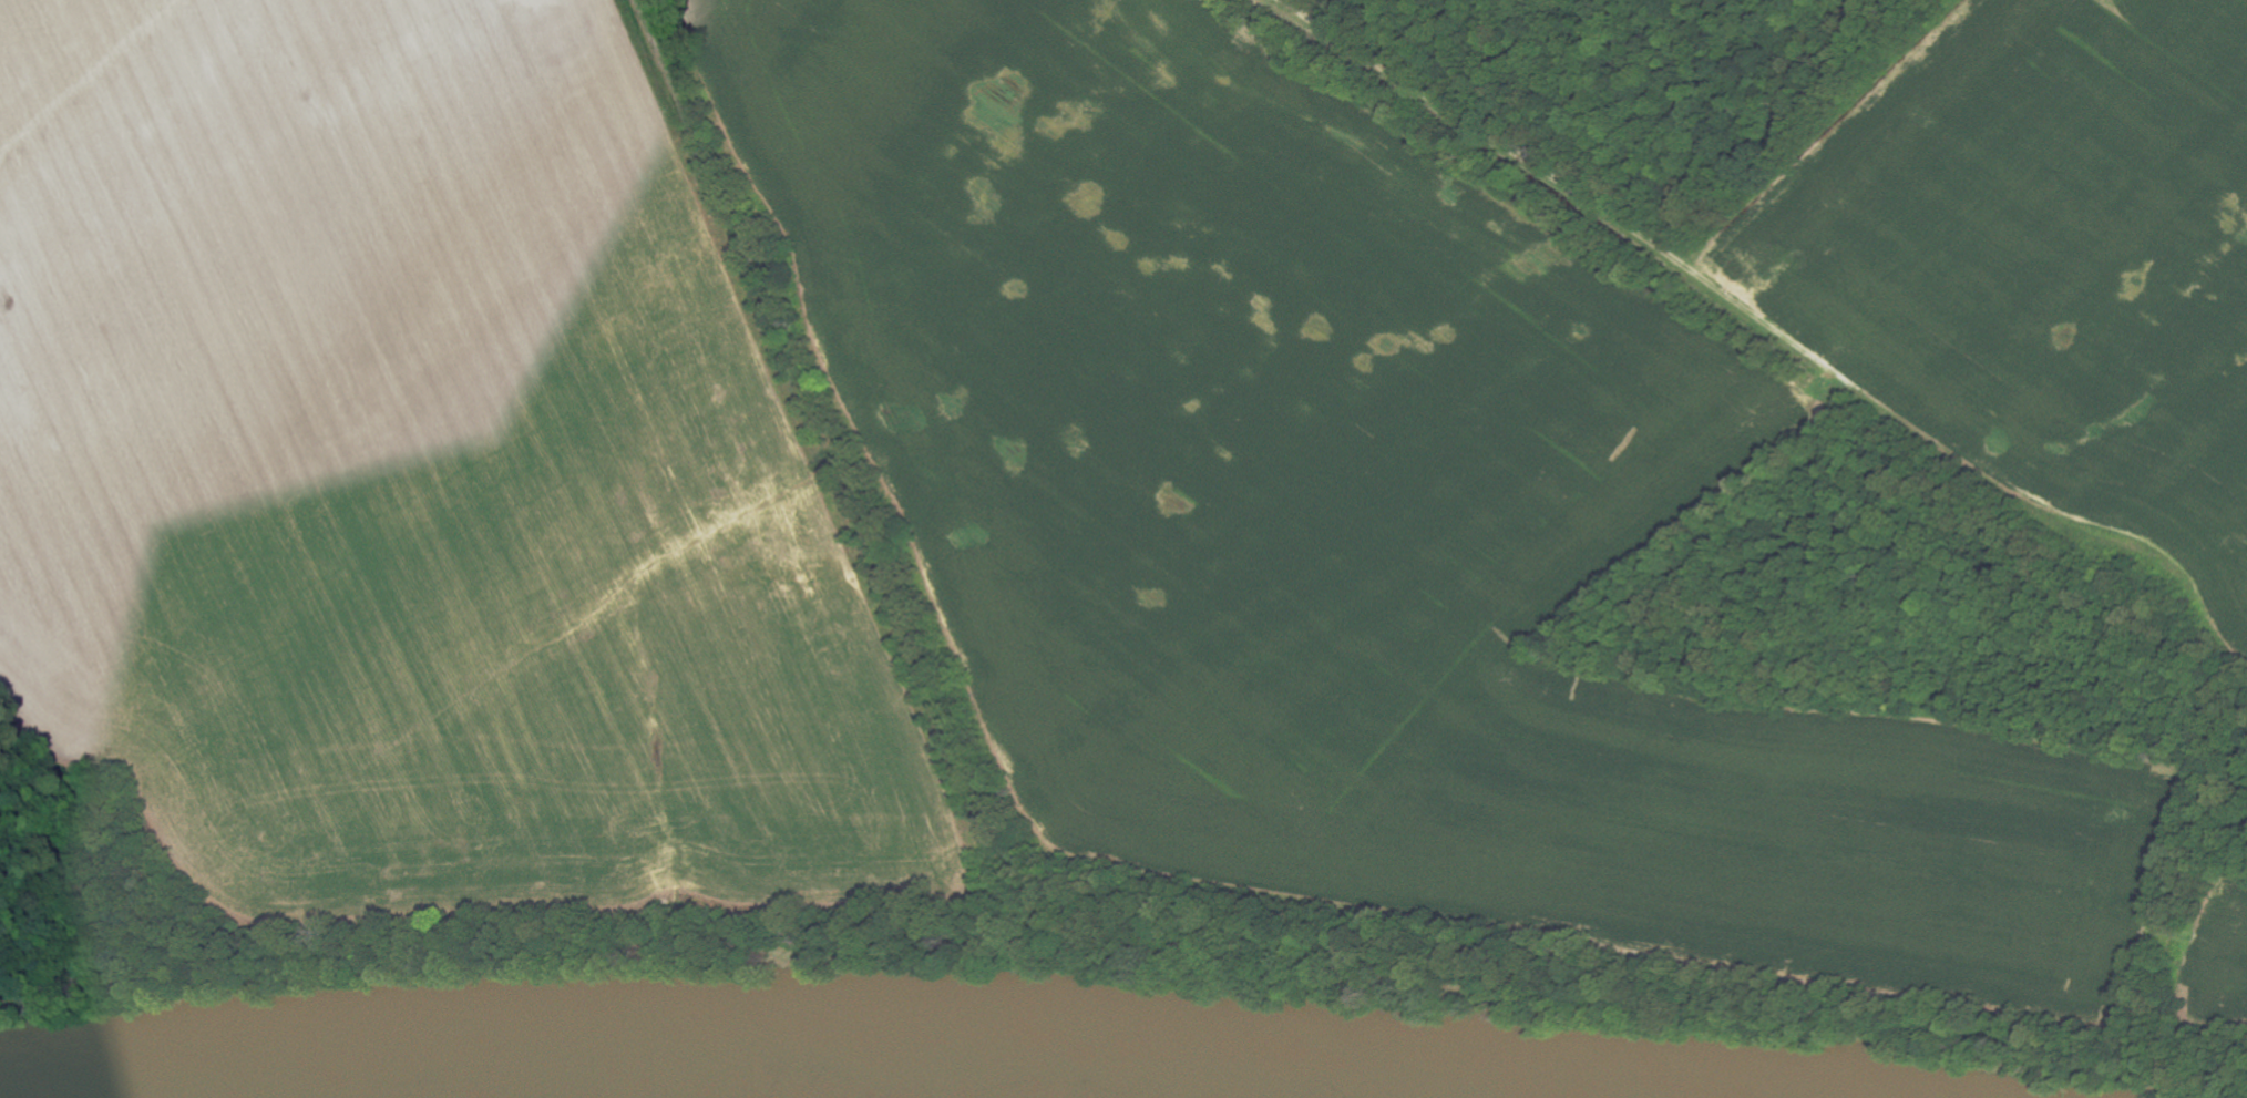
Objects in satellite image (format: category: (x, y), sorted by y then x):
river: (655, 1086)

